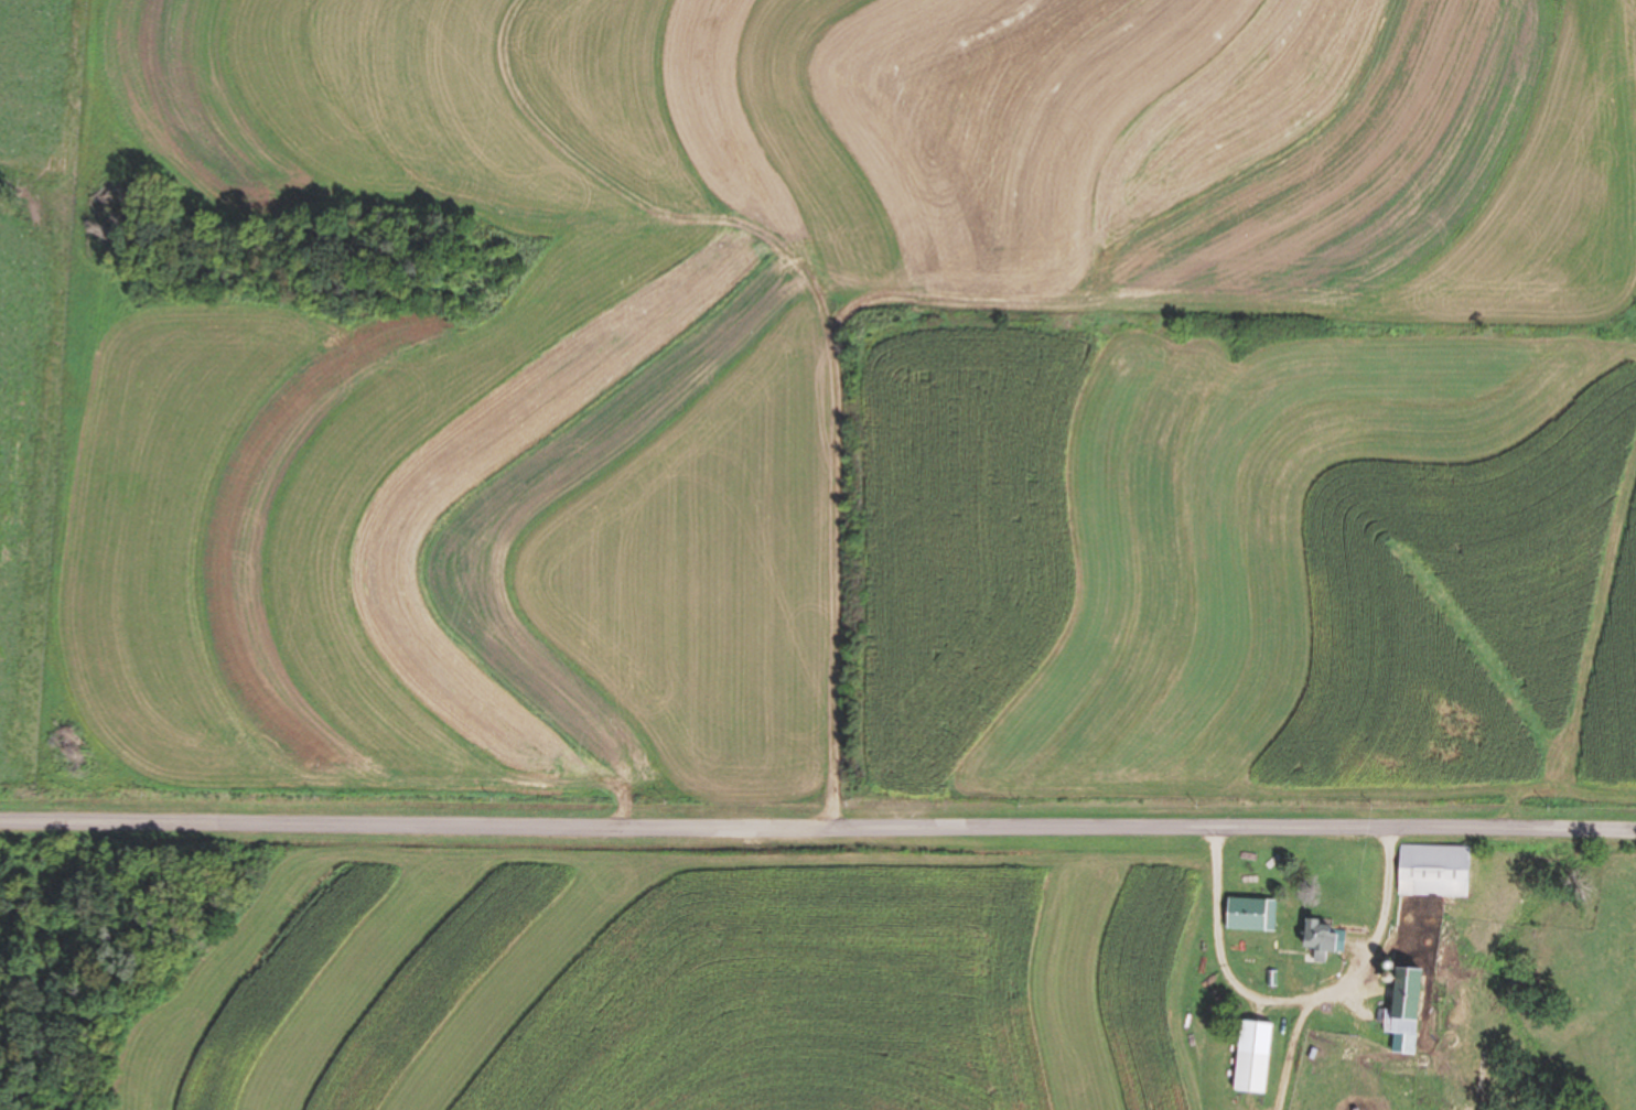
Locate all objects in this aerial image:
road: (817, 826)
building: (1433, 870)
building: (1249, 914)
building: (1315, 939)
building: (1402, 1004)
building: (1253, 1057)

